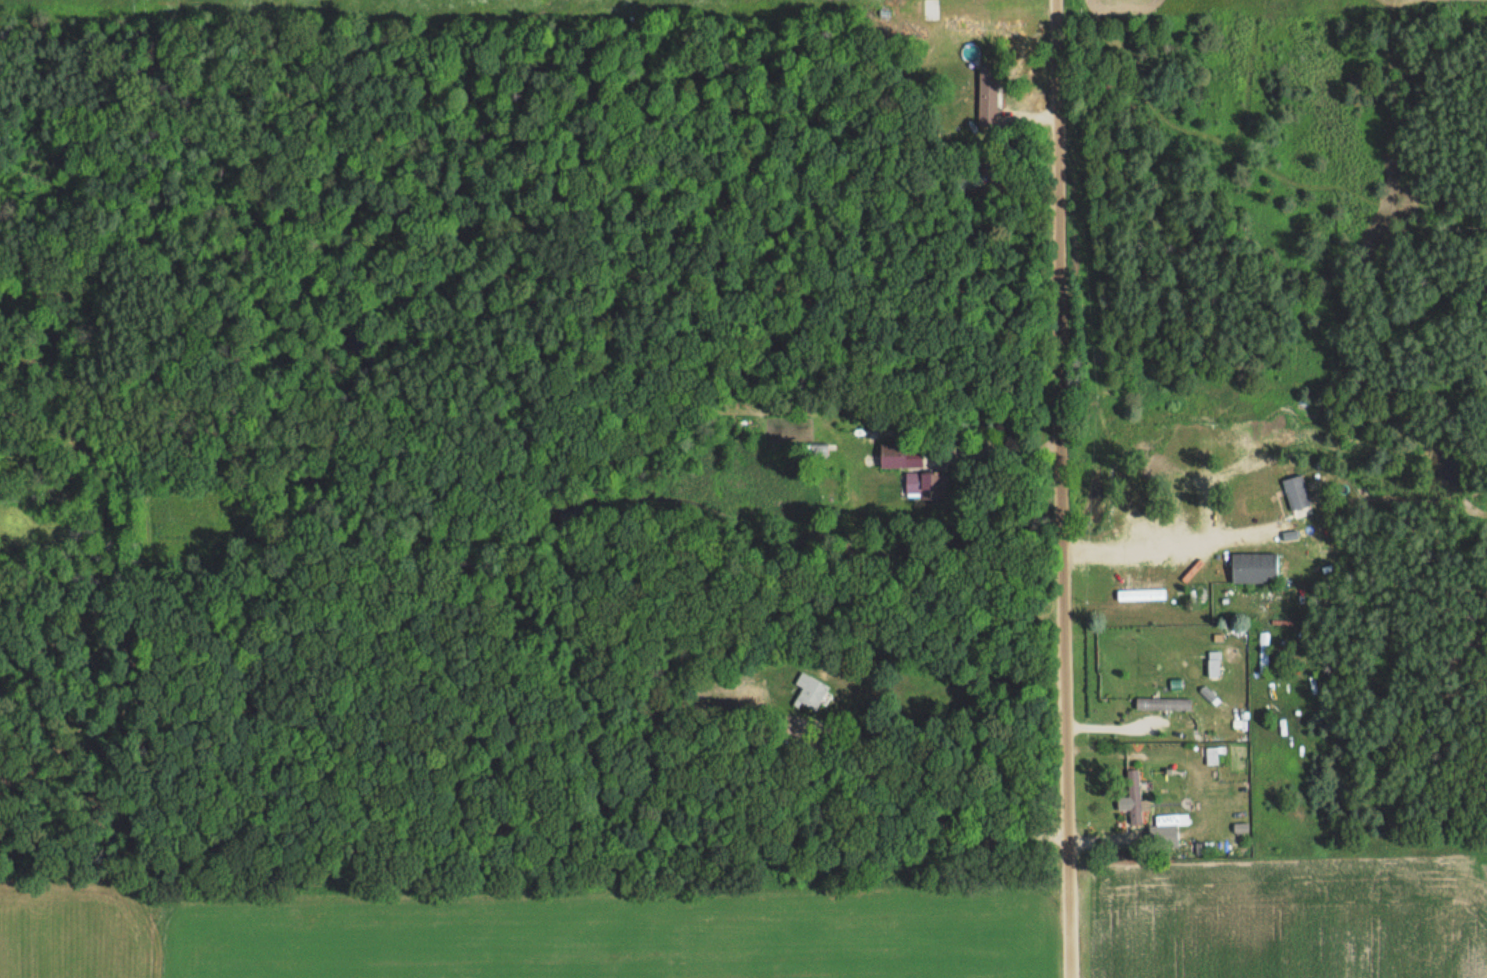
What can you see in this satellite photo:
building: (987, 95)
building: (818, 448)
building: (899, 457)
building: (918, 481)
road: (1056, 489)
building: (1295, 492)
building: (1253, 567)
building: (1141, 593)
building: (1213, 662)
building: (810, 688)
building: (1163, 702)
building: (1211, 754)
building: (1132, 780)
building: (1163, 831)

